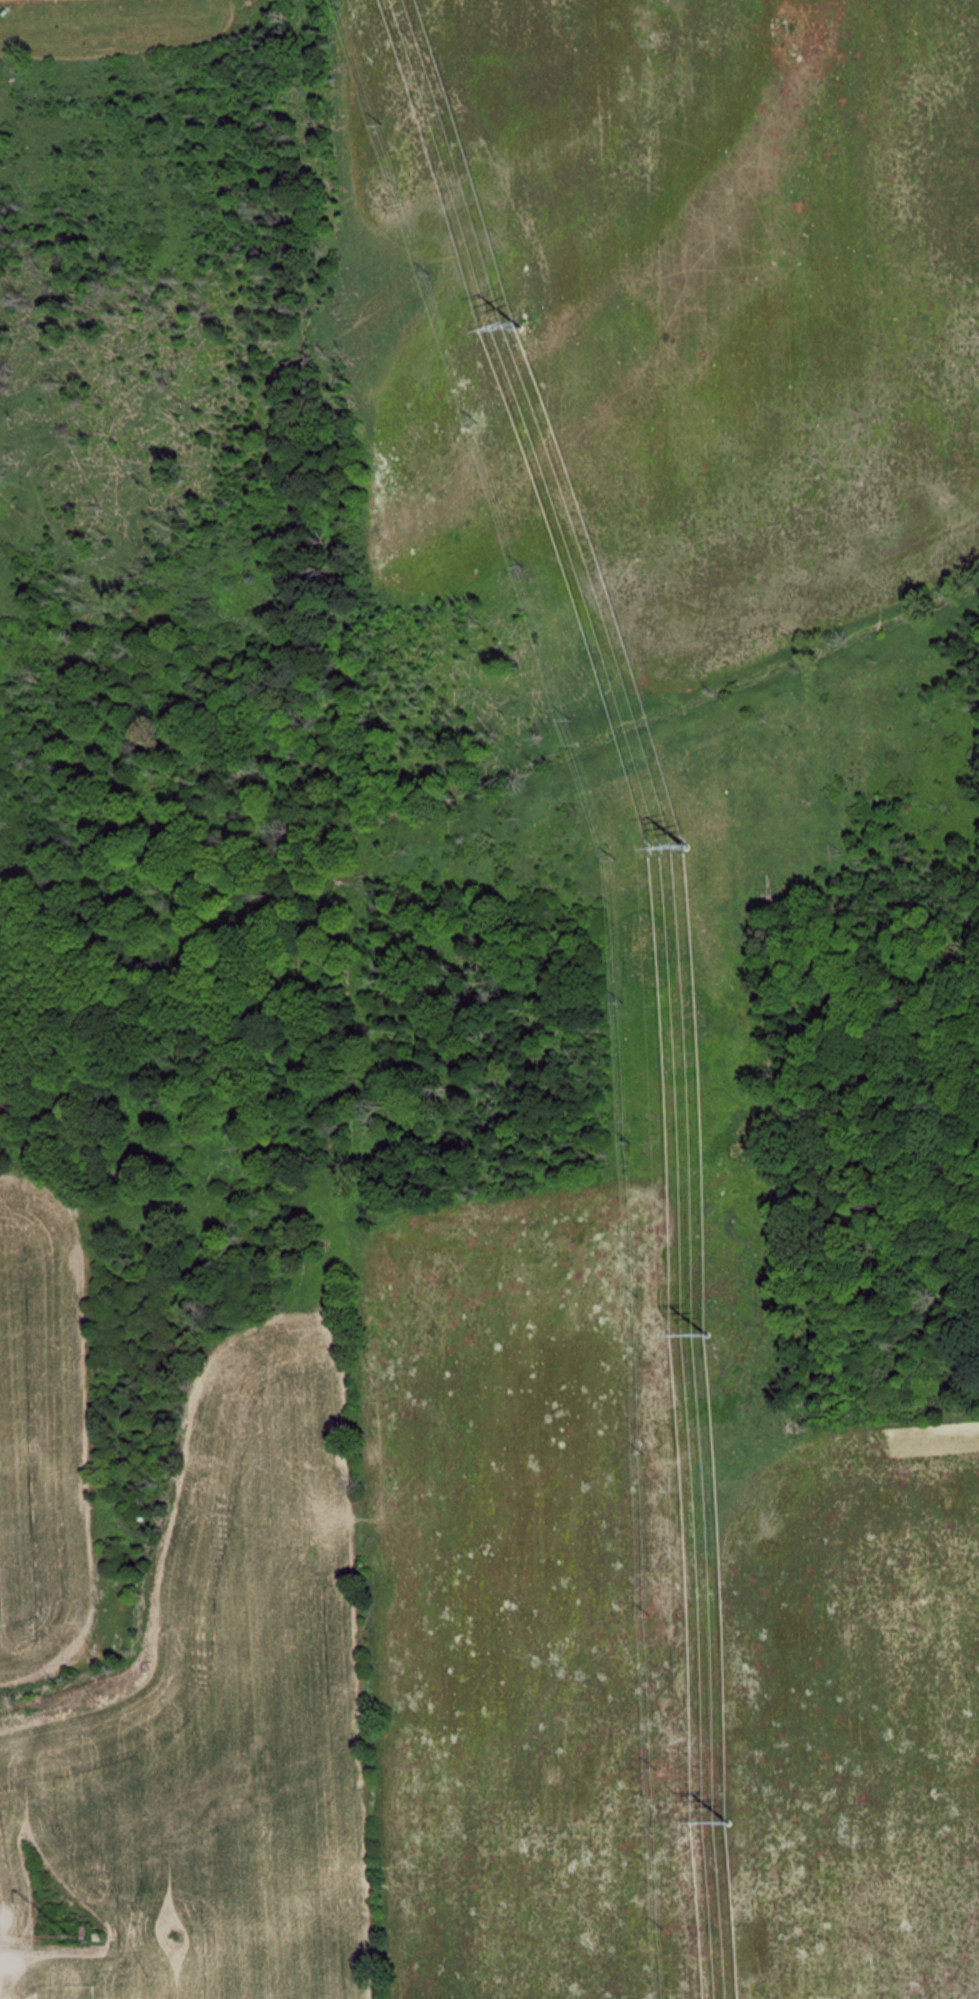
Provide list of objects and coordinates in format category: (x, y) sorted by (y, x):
power tower: (523, 324)
power tower: (686, 846)
power tower: (709, 1336)
power tower: (722, 1817)

